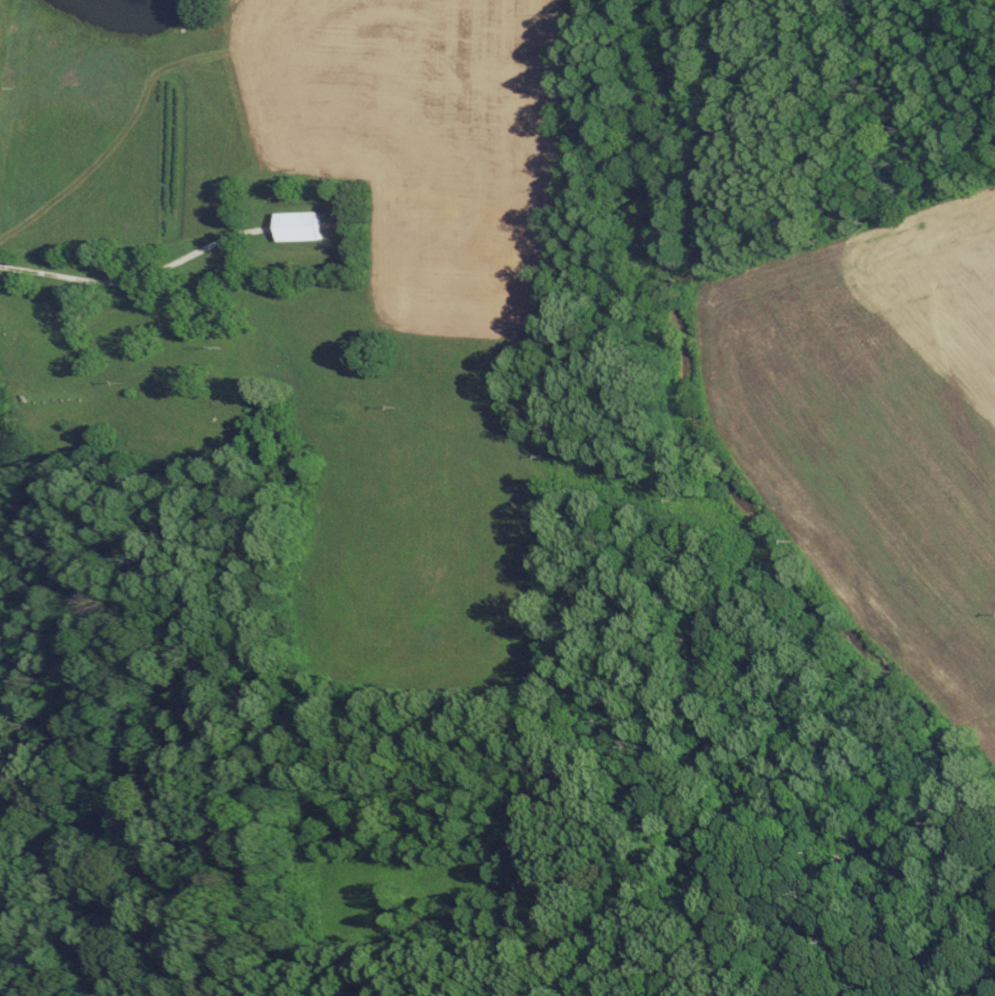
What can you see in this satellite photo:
building: (299, 227)

